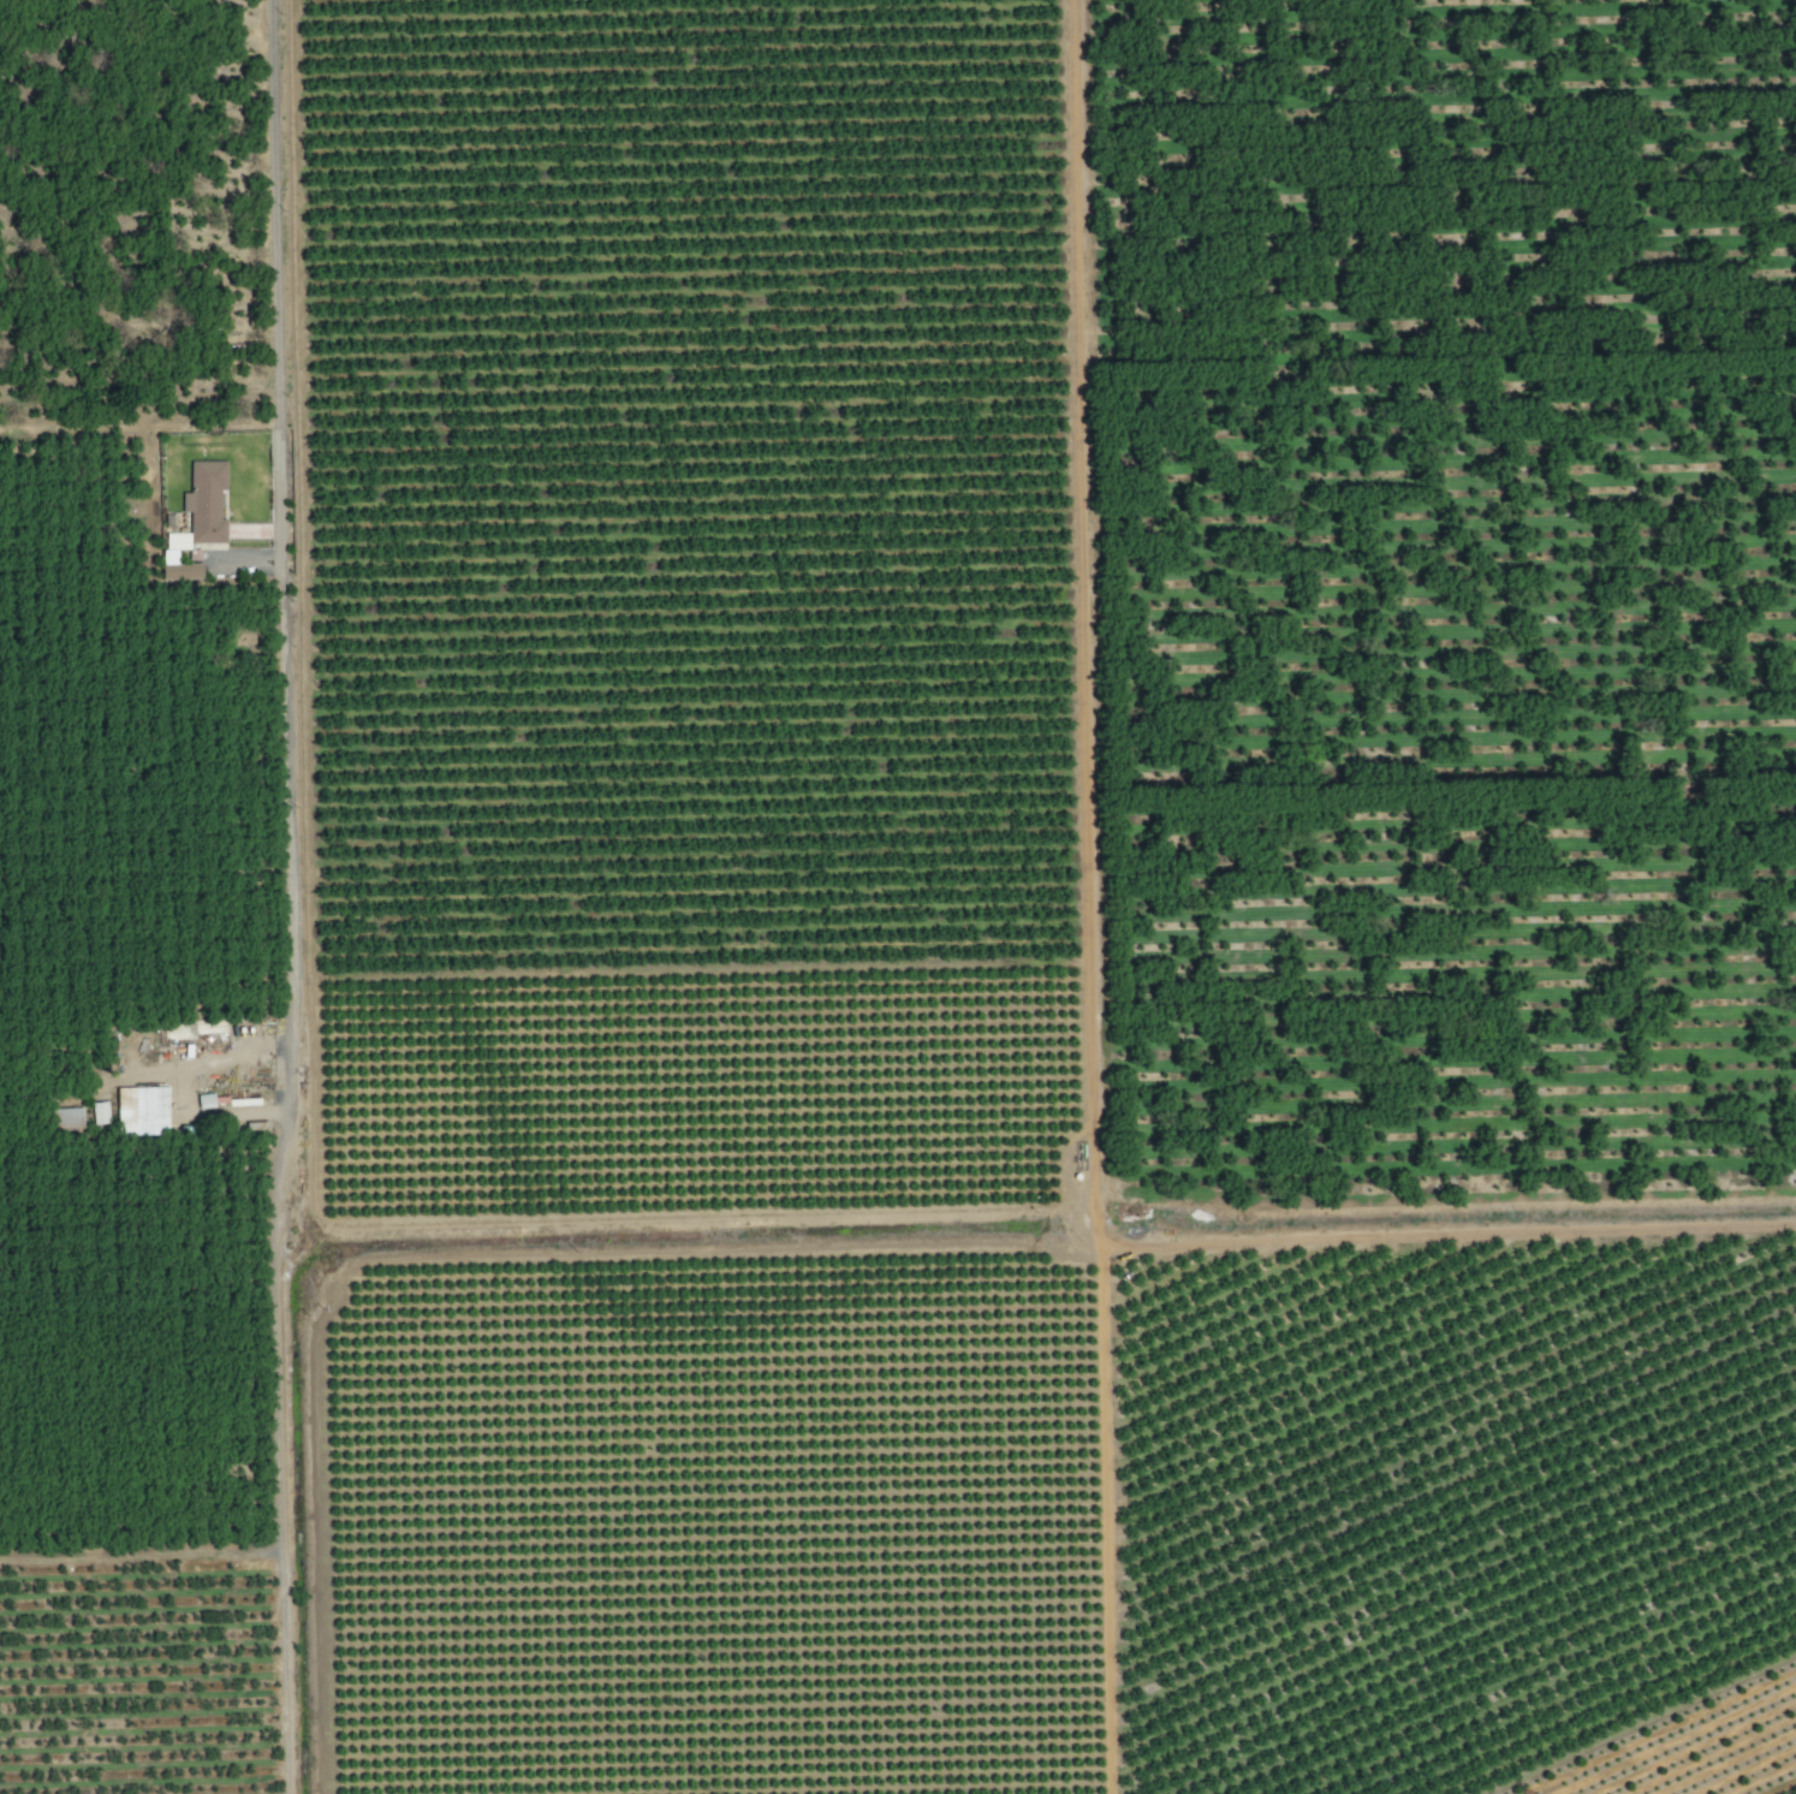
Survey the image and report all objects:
building: (196, 516)
road: (280, 552)
building: (143, 1109)
building: (100, 1111)
building: (70, 1116)

